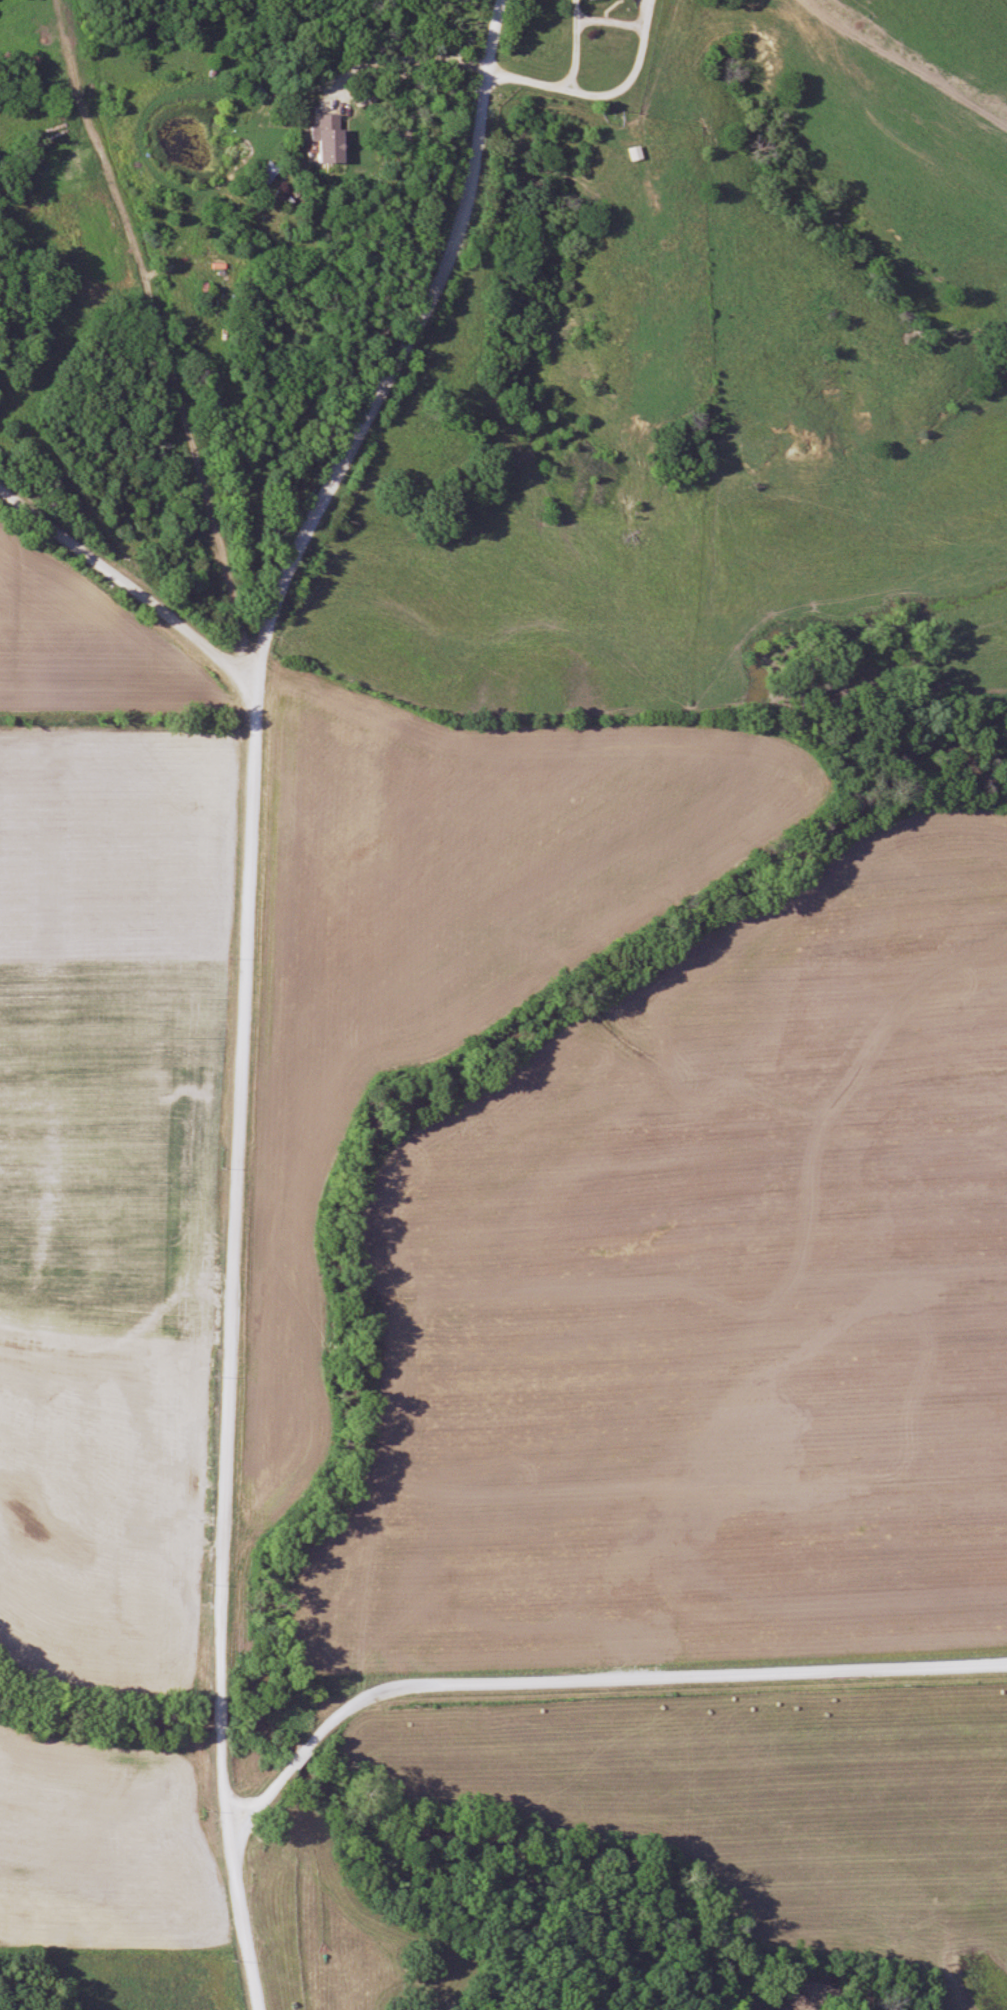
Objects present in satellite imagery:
road: (606, 18)
road: (572, 44)
road: (359, 62)
road: (629, 71)
road: (525, 79)
building: (328, 140)
building: (634, 153)
road: (158, 338)
road: (124, 585)
road: (239, 980)
road: (656, 1673)
road: (277, 1775)

